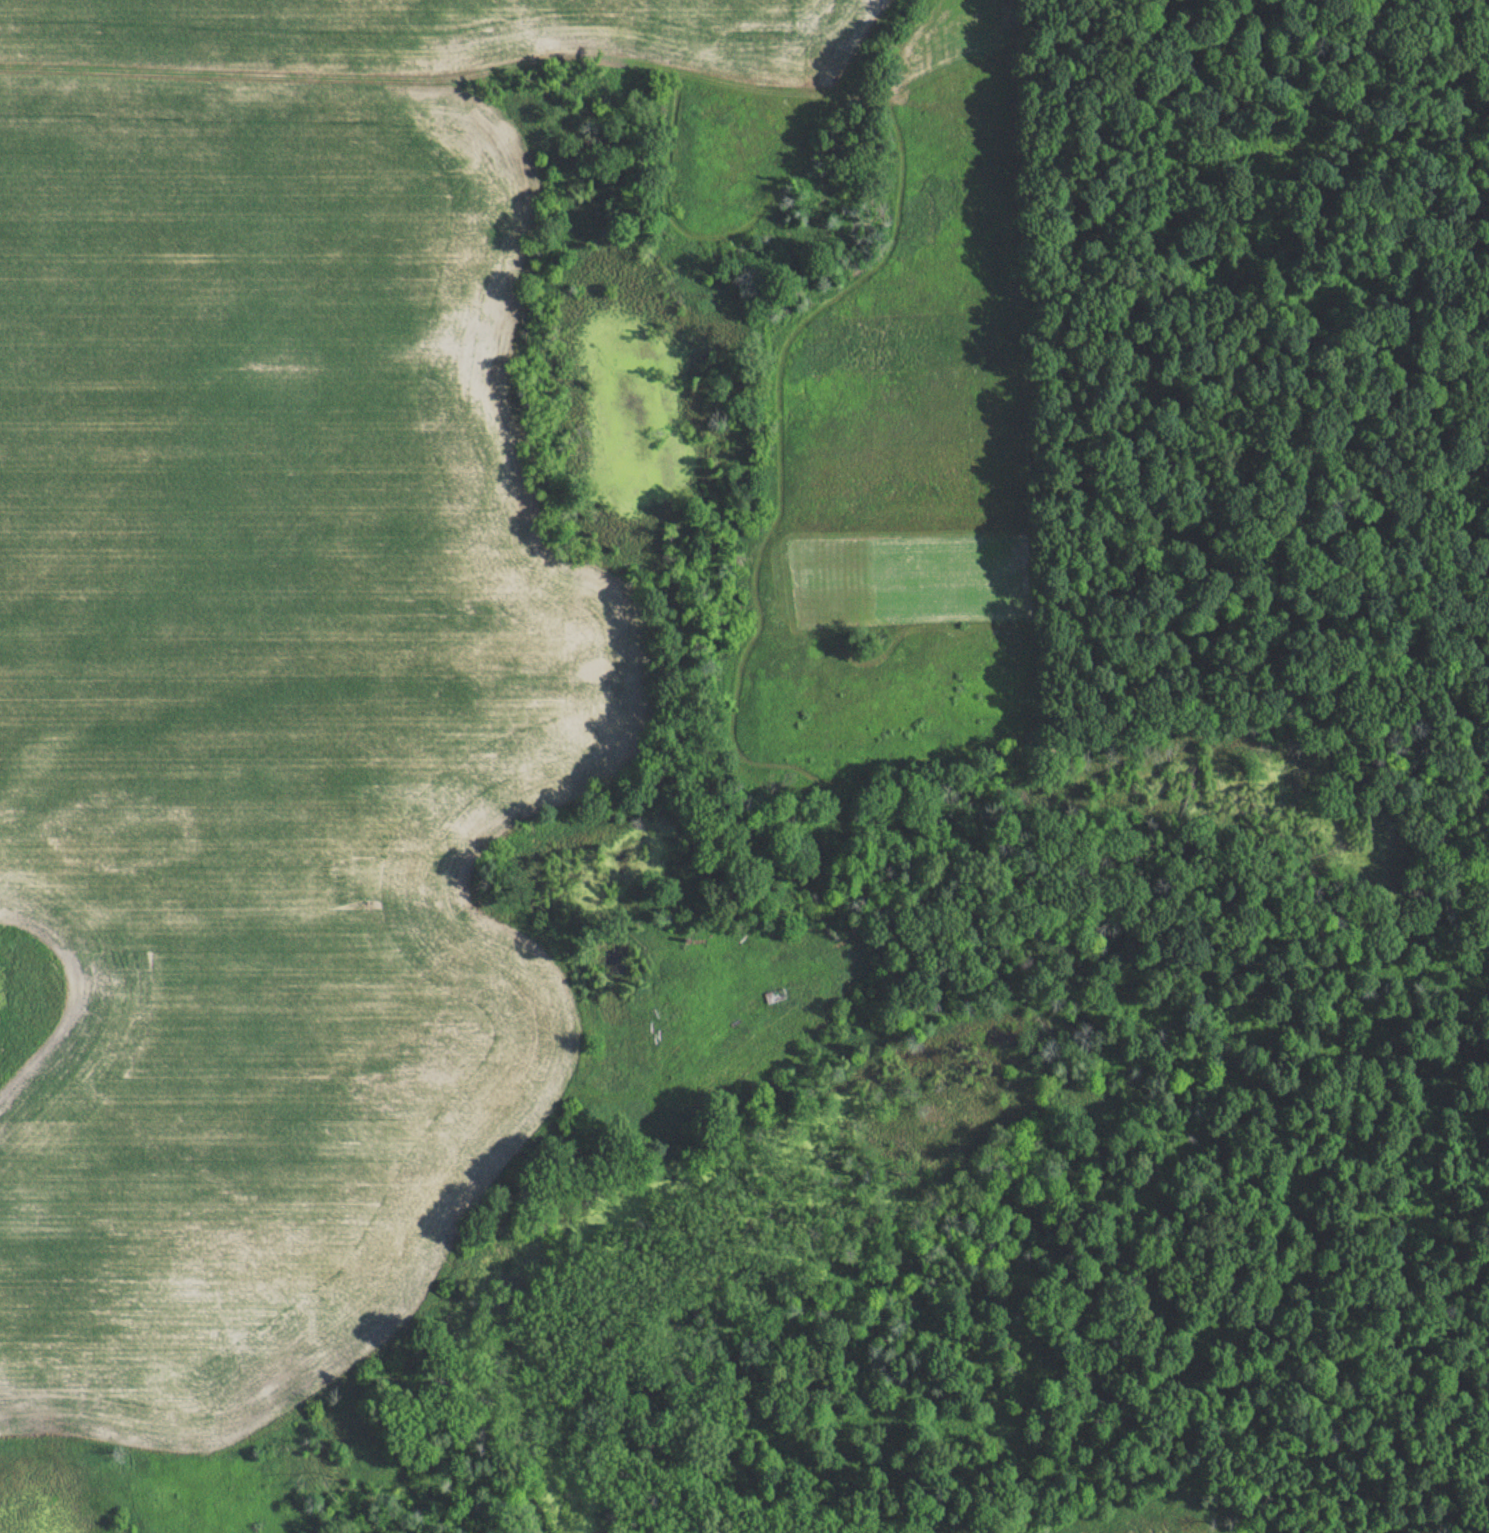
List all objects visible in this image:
building: (771, 996)

